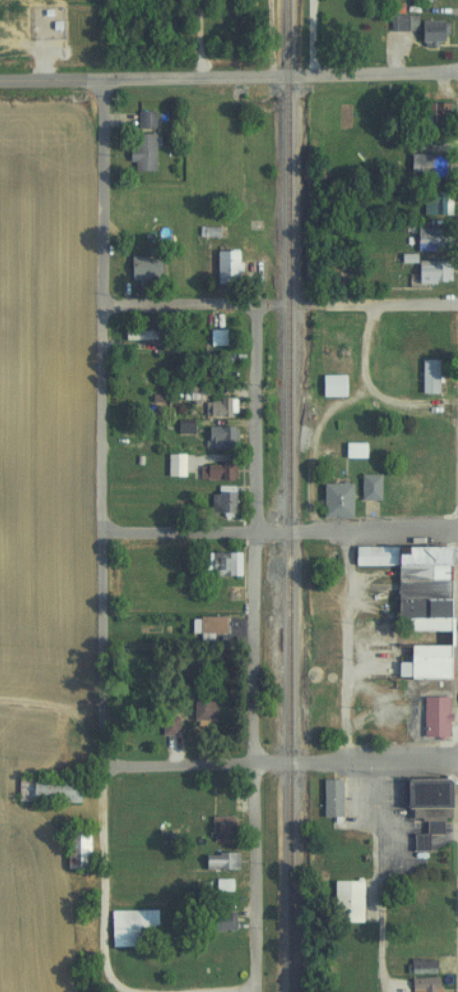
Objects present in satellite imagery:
building: (412, 27)
road: (316, 36)
road: (271, 37)
road: (204, 38)
road: (245, 75)
road: (17, 82)
building: (433, 112)
building: (141, 119)
building: (138, 152)
building: (424, 163)
building: (428, 203)
building: (421, 238)
building: (220, 266)
building: (139, 267)
building: (423, 270)
road: (281, 306)
building: (134, 334)
building: (212, 337)
road: (366, 346)
building: (212, 360)
building: (423, 376)
road: (103, 393)
building: (214, 406)
road: (336, 406)
building: (214, 436)
building: (349, 450)
building: (170, 464)
building: (213, 470)
building: (364, 487)
railway: (283, 496)
building: (217, 500)
building: (331, 500)
road: (279, 532)
road: (256, 534)
building: (219, 563)
building: (405, 585)
building: (203, 624)
building: (418, 661)
road: (51, 703)
building: (197, 706)
building: (429, 716)
building: (164, 725)
road: (280, 761)
building: (43, 790)
building: (326, 797)
building: (421, 798)
road: (105, 819)
building: (217, 828)
building: (71, 847)
building: (215, 861)
road: (254, 877)
building: (341, 900)
building: (212, 920)
building: (124, 925)
building: (416, 966)
road: (107, 969)
building: (420, 984)

